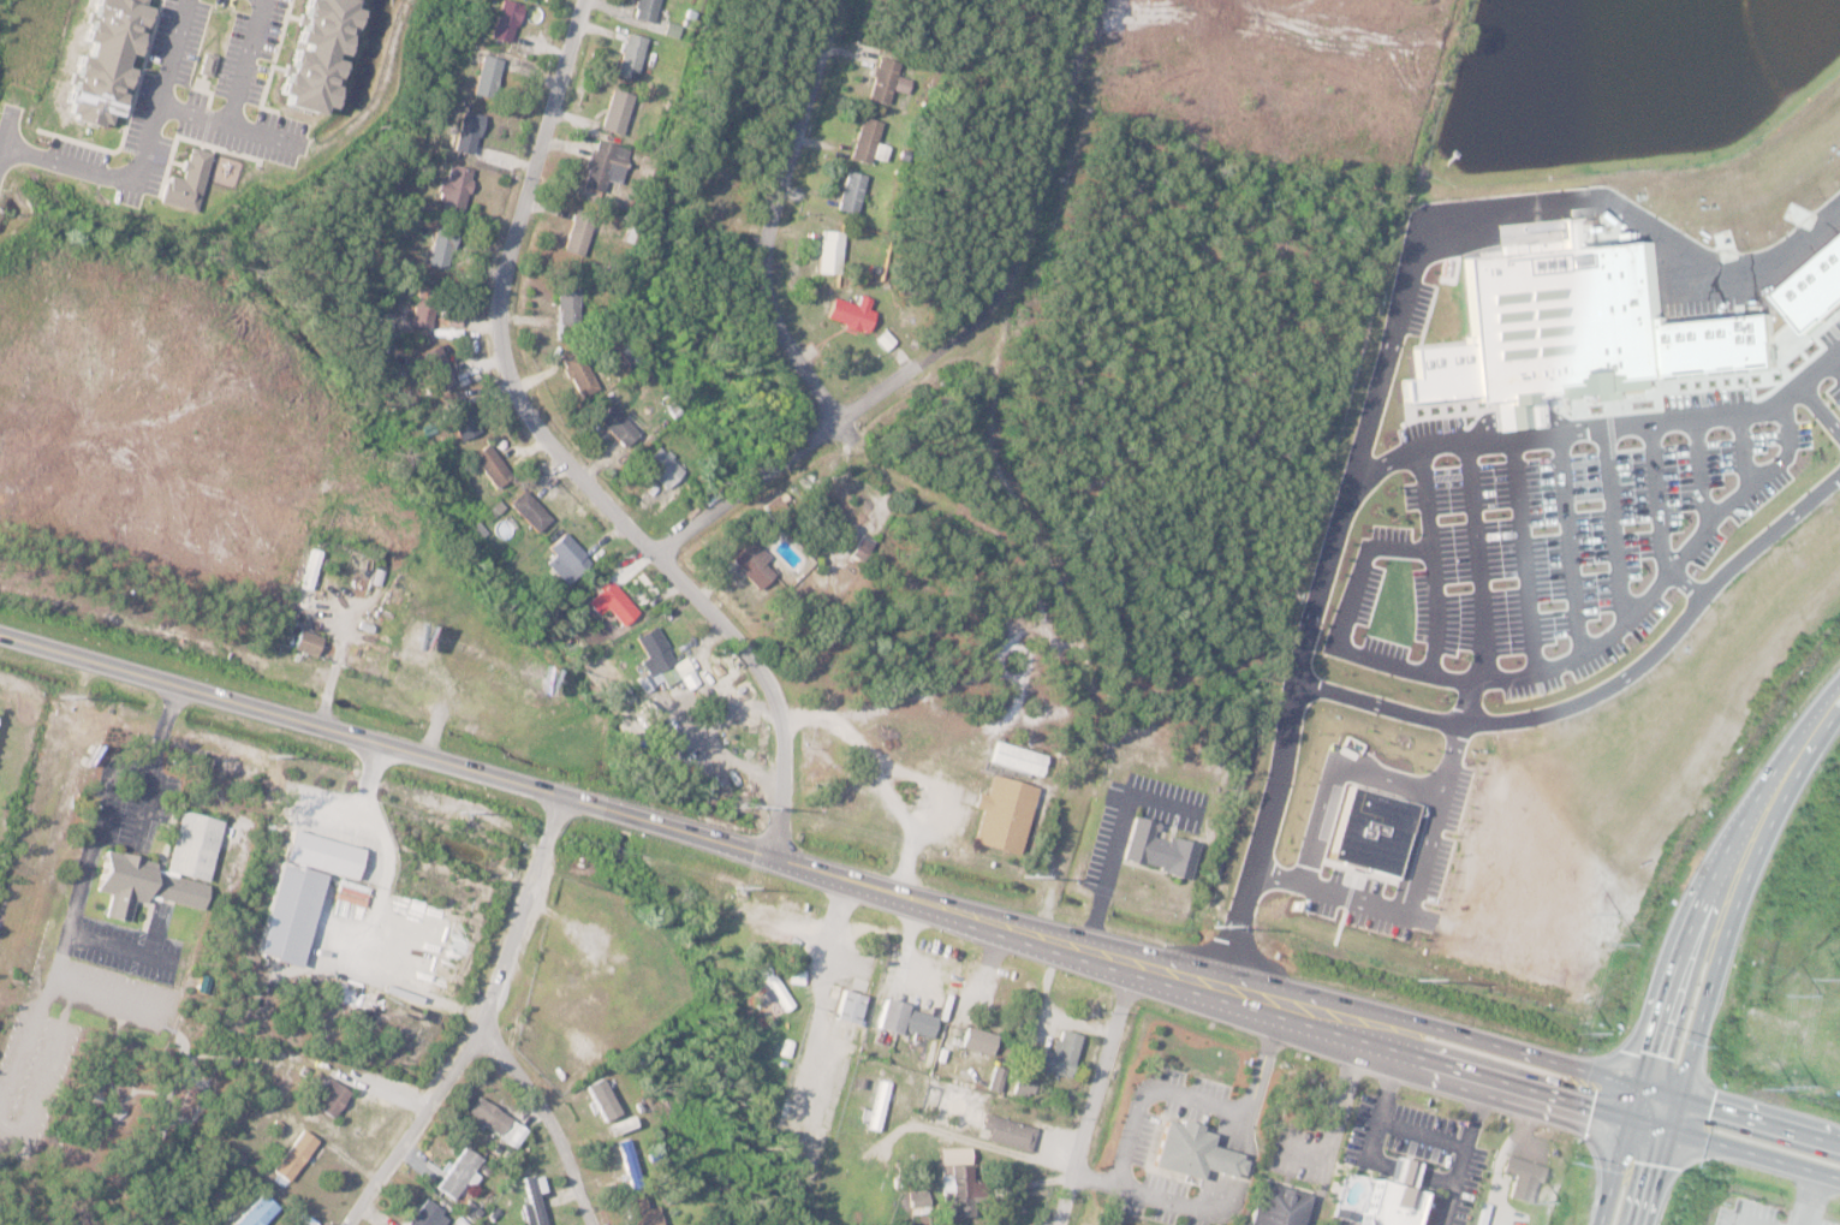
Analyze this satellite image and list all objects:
building: (643, 10)
building: (502, 23)
road: (174, 52)
building: (629, 58)
building: (484, 77)
building: (886, 79)
road: (238, 96)
building: (614, 113)
building: (465, 135)
building: (863, 141)
building: (603, 165)
road: (101, 172)
building: (451, 189)
building: (847, 194)
road: (774, 215)
building: (576, 234)
building: (828, 251)
building: (1812, 286)
building: (421, 309)
building: (564, 313)
building: (848, 314)
building: (1573, 326)
building: (436, 370)
building: (576, 375)
building: (458, 418)
building: (615, 427)
road: (823, 428)
road: (559, 458)
building: (489, 468)
building: (661, 469)
road: (1000, 470)
building: (528, 512)
building: (567, 557)
building: (749, 564)
building: (312, 566)
building: (380, 575)
building: (615, 603)
building: (309, 642)
building: (653, 652)
road: (335, 666)
road: (833, 720)
road: (1460, 722)
building: (663, 736)
building: (1013, 756)
road: (928, 779)
road: (518, 786)
road: (38, 804)
road: (143, 811)
building: (1001, 813)
road: (380, 822)
building: (1366, 831)
road: (1118, 832)
road: (94, 837)
building: (196, 843)
building: (1156, 848)
building: (326, 852)
road: (1715, 872)
building: (145, 884)
road: (1739, 893)
road: (1415, 897)
building: (293, 911)
road: (907, 942)
road: (62, 951)
road: (826, 961)
road: (993, 961)
building: (794, 975)
building: (773, 986)
road: (1046, 987)
road: (121, 993)
road: (1340, 1001)
building: (846, 1005)
building: (900, 1018)
road: (1078, 1019)
road: (482, 1024)
road: (24, 1039)
building: (975, 1039)
building: (1055, 1053)
road: (1436, 1060)
road: (48, 1062)
building: (994, 1077)
building: (1022, 1084)
traffic signals: (1639, 1086)
road: (1659, 1090)
traffic signals: (1679, 1096)
road: (1096, 1098)
road: (1196, 1099)
building: (328, 1100)
building: (821, 1100)
building: (599, 1101)
building: (876, 1104)
traffic signals: (1630, 1117)
road: (1759, 1119)
road: (550, 1122)
building: (492, 1124)
traffic signals: (1669, 1129)
road: (1423, 1130)
building: (1005, 1131)
road: (1332, 1131)
road: (1000, 1146)
building: (1189, 1150)
road: (1618, 1154)
building: (952, 1155)
building: (291, 1156)
road: (1660, 1160)
building: (625, 1166)
building: (455, 1176)
road: (1046, 1178)
building: (1520, 1179)
road: (1142, 1189)
building: (958, 1191)
road: (1810, 1197)
building: (531, 1201)
building: (1378, 1202)
building: (1274, 1206)
building: (635, 1213)
building: (425, 1215)
road: (1747, 1220)
building: (1600, 1223)

